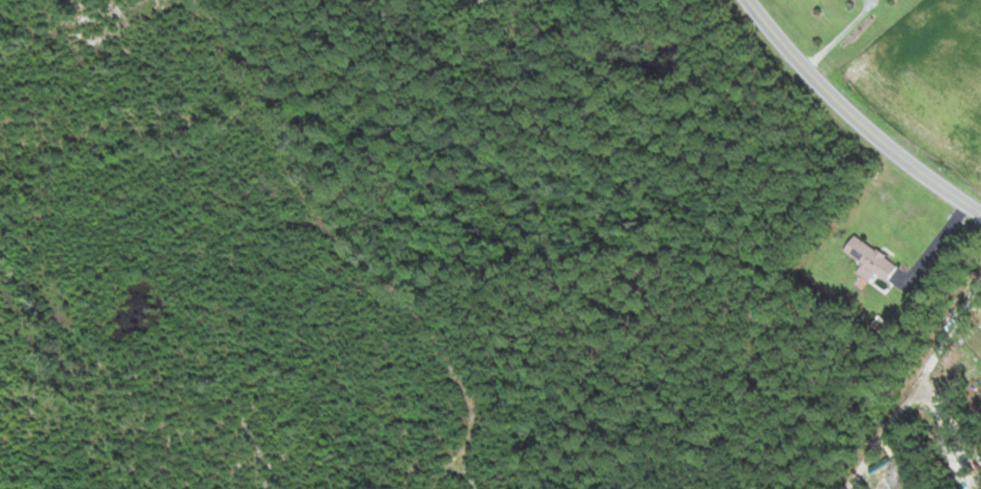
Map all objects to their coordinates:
road: (855, 115)
building: (871, 258)

